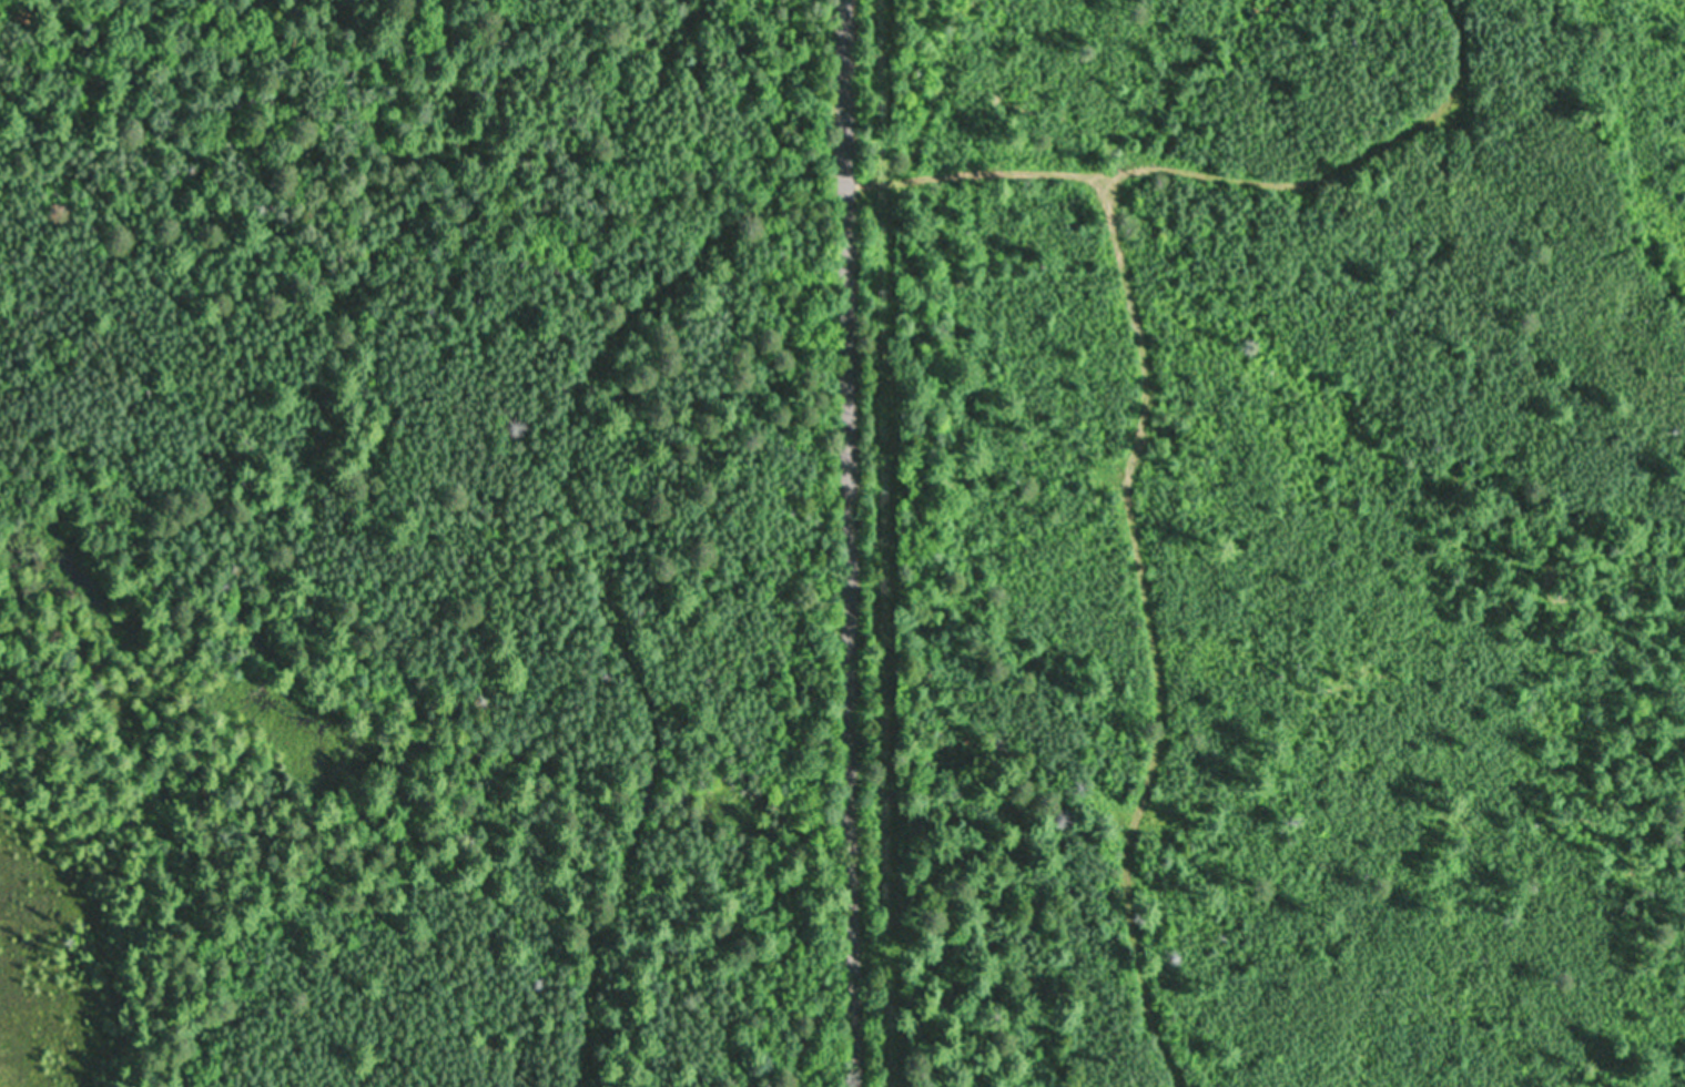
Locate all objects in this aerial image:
road: (844, 543)

